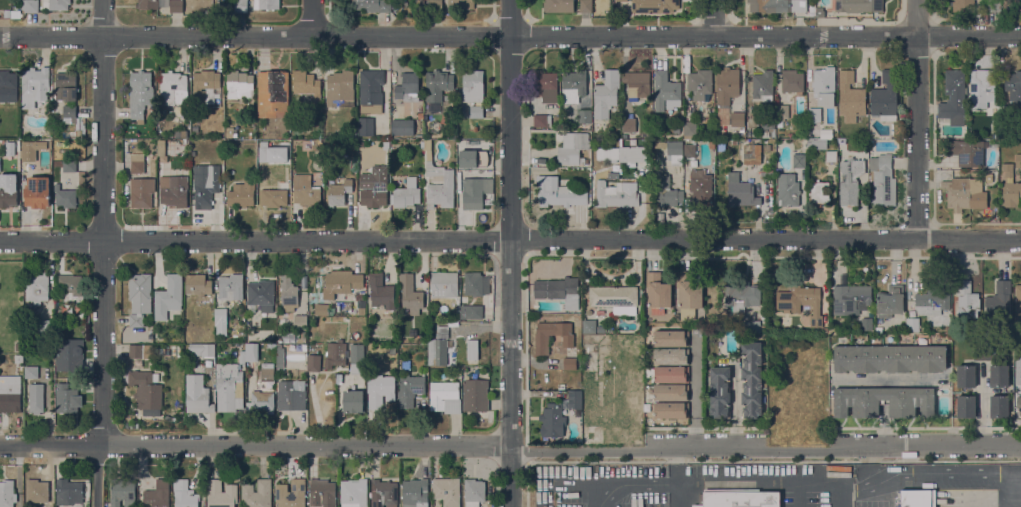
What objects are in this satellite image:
building: (621, 0)
building: (158, 3)
building: (56, 4)
building: (148, 4)
building: (266, 4)
building: (461, 4)
building: (172, 5)
building: (370, 5)
building: (585, 5)
building: (654, 5)
building: (777, 5)
building: (962, 5)
building: (994, 5)
building: (31, 6)
building: (240, 6)
building: (435, 6)
building: (558, 6)
building: (858, 6)
building: (1015, 6)
building: (819, 11)
building: (6, 13)
building: (15, 14)
road: (311, 17)
road: (714, 17)
road: (510, 35)
building: (792, 81)
building: (35, 83)
building: (637, 83)
building: (65, 84)
building: (307, 84)
building: (699, 84)
building: (239, 85)
building: (438, 85)
building: (545, 85)
building: (727, 85)
building: (8, 86)
building: (205, 86)
building: (473, 86)
building: (573, 86)
building: (762, 86)
building: (824, 86)
building: (981, 86)
building: (1013, 86)
building: (408, 87)
building: (172, 88)
building: (340, 89)
building: (371, 91)
building: (666, 91)
building: (273, 93)
building: (140, 94)
building: (606, 94)
building: (850, 97)
building: (885, 97)
building: (953, 99)
building: (476, 112)
building: (1004, 112)
building: (69, 113)
building: (781, 113)
building: (814, 114)
building: (584, 116)
building: (737, 119)
building: (542, 120)
road: (917, 120)
building: (628, 125)
building: (767, 126)
building: (366, 127)
building: (402, 127)
building: (194, 128)
building: (781, 128)
building: (690, 129)
building: (677, 130)
building: (229, 132)
building: (181, 134)
building: (353, 134)
building: (781, 134)
building: (185, 141)
building: (285, 143)
building: (816, 143)
building: (317, 144)
building: (362, 144)
building: (421, 144)
building: (16, 145)
building: (127, 146)
building: (572, 147)
building: (768, 147)
building: (161, 148)
building: (721, 148)
building: (31, 150)
building: (690, 150)
building: (672, 151)
building: (968, 151)
building: (750, 152)
building: (608, 154)
building: (831, 156)
building: (473, 157)
building: (799, 160)
building: (584, 161)
building: (1018, 161)
building: (137, 163)
building: (69, 165)
building: (1008, 171)
building: (767, 172)
building: (988, 177)
building: (883, 179)
building: (437, 181)
building: (850, 181)
building: (205, 183)
building: (701, 186)
building: (374, 187)
building: (788, 189)
building: (174, 190)
building: (305, 190)
building: (142, 191)
building: (37, 192)
building: (339, 192)
building: (472, 192)
building: (667, 192)
building: (241, 193)
building: (818, 193)
building: (964, 193)
building: (407, 194)
building: (616, 194)
building: (742, 194)
building: (1011, 194)
building: (275, 195)
building: (560, 195)
building: (65, 196)
building: (8, 198)
building: (996, 208)
road: (510, 238)
road: (107, 253)
road: (509, 253)
building: (341, 283)
building: (444, 284)
building: (476, 284)
building: (198, 285)
building: (69, 287)
building: (140, 287)
building: (231, 287)
building: (37, 288)
building: (559, 290)
building: (658, 290)
building: (689, 290)
building: (381, 291)
building: (288, 293)
building: (410, 294)
building: (261, 296)
building: (613, 296)
building: (742, 296)
building: (169, 297)
building: (359, 297)
building: (798, 298)
building: (851, 299)
building: (1018, 299)
building: (933, 300)
building: (967, 300)
building: (890, 301)
building: (999, 301)
building: (343, 306)
building: (322, 309)
building: (361, 311)
building: (472, 312)
building: (221, 317)
building: (136, 320)
building: (300, 321)
building: (816, 321)
building: (866, 323)
building: (912, 325)
building: (589, 326)
building: (751, 326)
building: (764, 328)
building: (879, 329)
building: (948, 329)
building: (45, 330)
building: (825, 330)
building: (243, 332)
building: (29, 337)
building: (672, 338)
building: (542, 341)
building: (20, 347)
building: (271, 347)
building: (304, 347)
building: (202, 349)
building: (438, 349)
building: (472, 349)
building: (985, 350)
building: (140, 351)
building: (160, 351)
building: (68, 354)
building: (336, 354)
building: (671, 356)
building: (280, 358)
building: (889, 358)
building: (243, 359)
building: (357, 359)
building: (313, 363)
building: (570, 363)
building: (406, 364)
building: (31, 372)
building: (18, 373)
building: (1018, 373)
building: (672, 374)
building: (966, 376)
building: (999, 376)
building: (751, 379)
building: (227, 388)
building: (410, 389)
building: (380, 390)
building: (671, 391)
building: (147, 392)
building: (720, 392)
building: (263, 393)
building: (197, 395)
building: (475, 395)
road: (694, 395)
building: (291, 396)
building: (445, 397)
building: (10, 398)
building: (36, 398)
building: (66, 398)
building: (574, 400)
building: (353, 401)
building: (884, 401)
building: (1019, 404)
road: (734, 405)
building: (966, 406)
building: (999, 406)
building: (672, 410)
building: (167, 418)
building: (552, 420)
building: (134, 425)
building: (545, 440)
road: (254, 445)
road: (764, 448)
road: (675, 455)
road: (675, 473)
road: (808, 483)
building: (37, 491)
building: (447, 491)
building: (69, 492)
building: (122, 492)
building: (474, 492)
building: (7, 493)
building: (291, 493)
building: (322, 493)
building: (354, 493)
building: (384, 493)
building: (415, 493)
building: (157, 494)
building: (184, 494)
building: (221, 494)
building: (257, 494)
building: (739, 498)
building: (918, 498)

